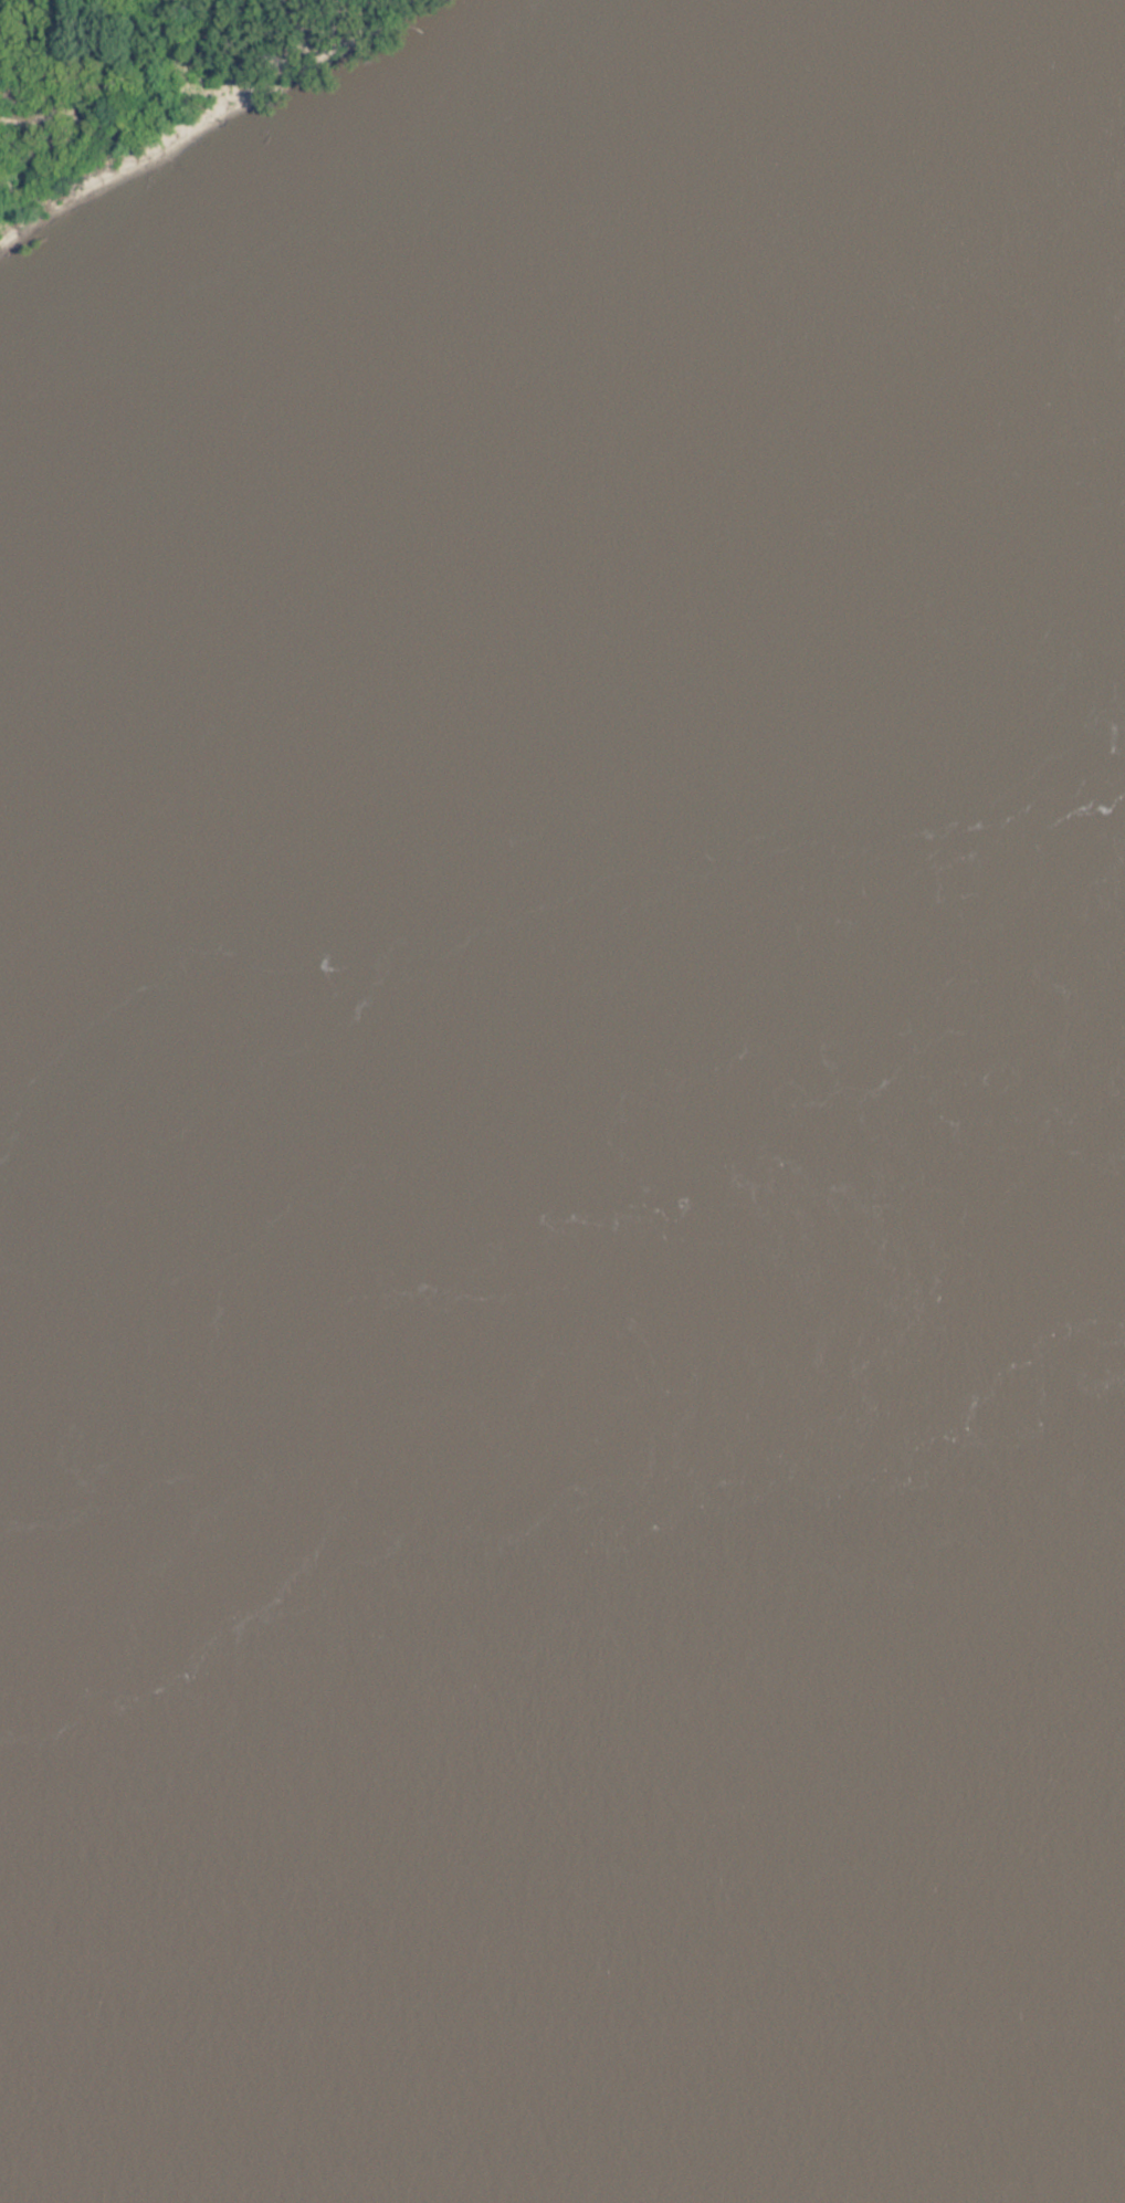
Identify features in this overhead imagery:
river: (565, 2043)

